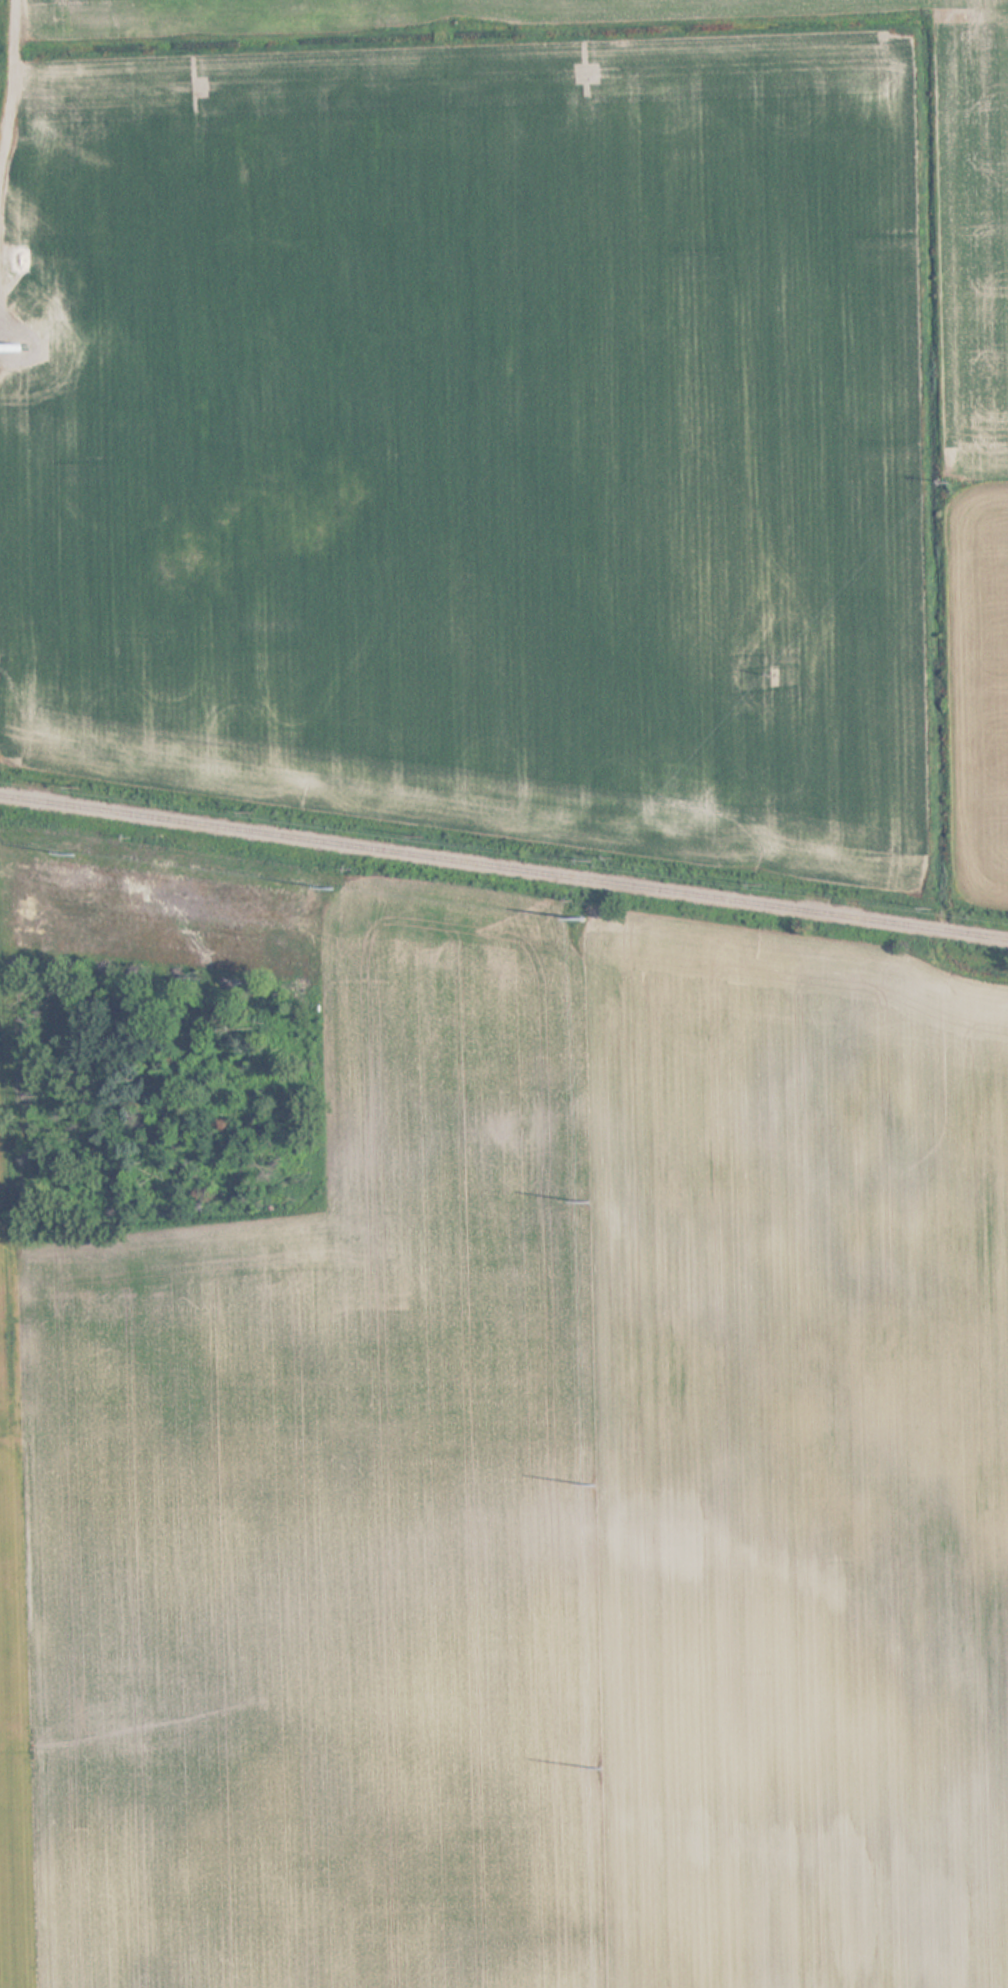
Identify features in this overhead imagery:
road: (14, 84)
wind turbine: (10, 349)
power tower: (74, 851)
railway: (503, 868)
power tower: (328, 888)
power tower: (587, 916)
power tower: (587, 1200)
power tower: (595, 1486)
power tower: (603, 1767)

